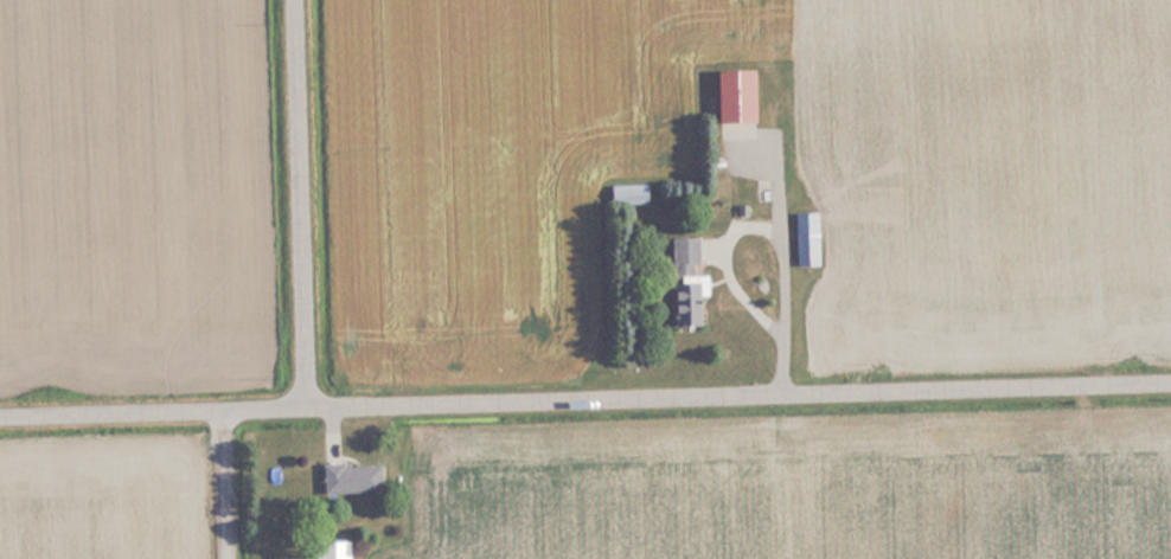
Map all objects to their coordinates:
building: (729, 95)
road: (303, 204)
building: (802, 239)
building: (682, 279)
road: (584, 400)
building: (346, 478)
road: (229, 484)
building: (329, 550)

